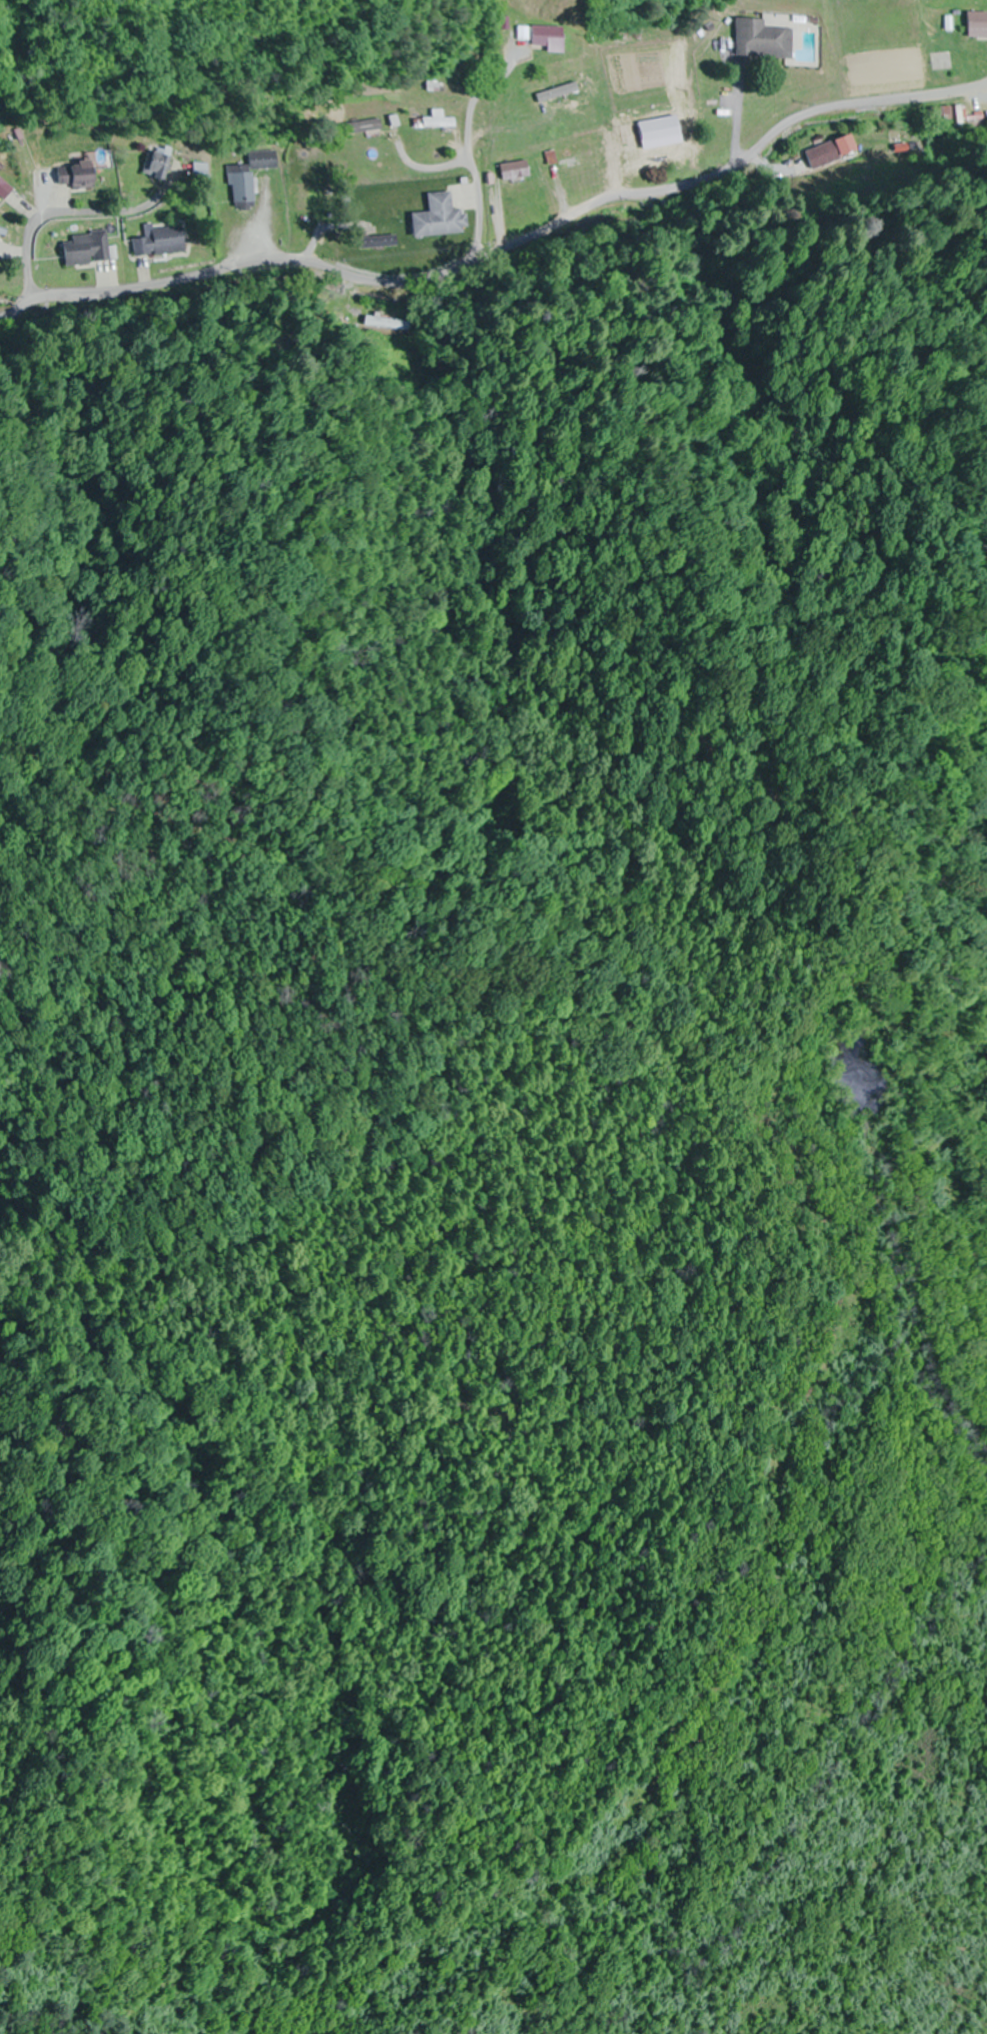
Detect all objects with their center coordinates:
building: (980, 25)
building: (546, 36)
building: (768, 41)
building: (441, 121)
building: (368, 127)
building: (580, 152)
building: (827, 153)
building: (161, 163)
building: (517, 171)
road: (473, 172)
building: (80, 176)
building: (252, 177)
building: (6, 189)
building: (440, 218)
building: (382, 242)
building: (162, 243)
road: (503, 248)
building: (88, 250)
building: (381, 323)

